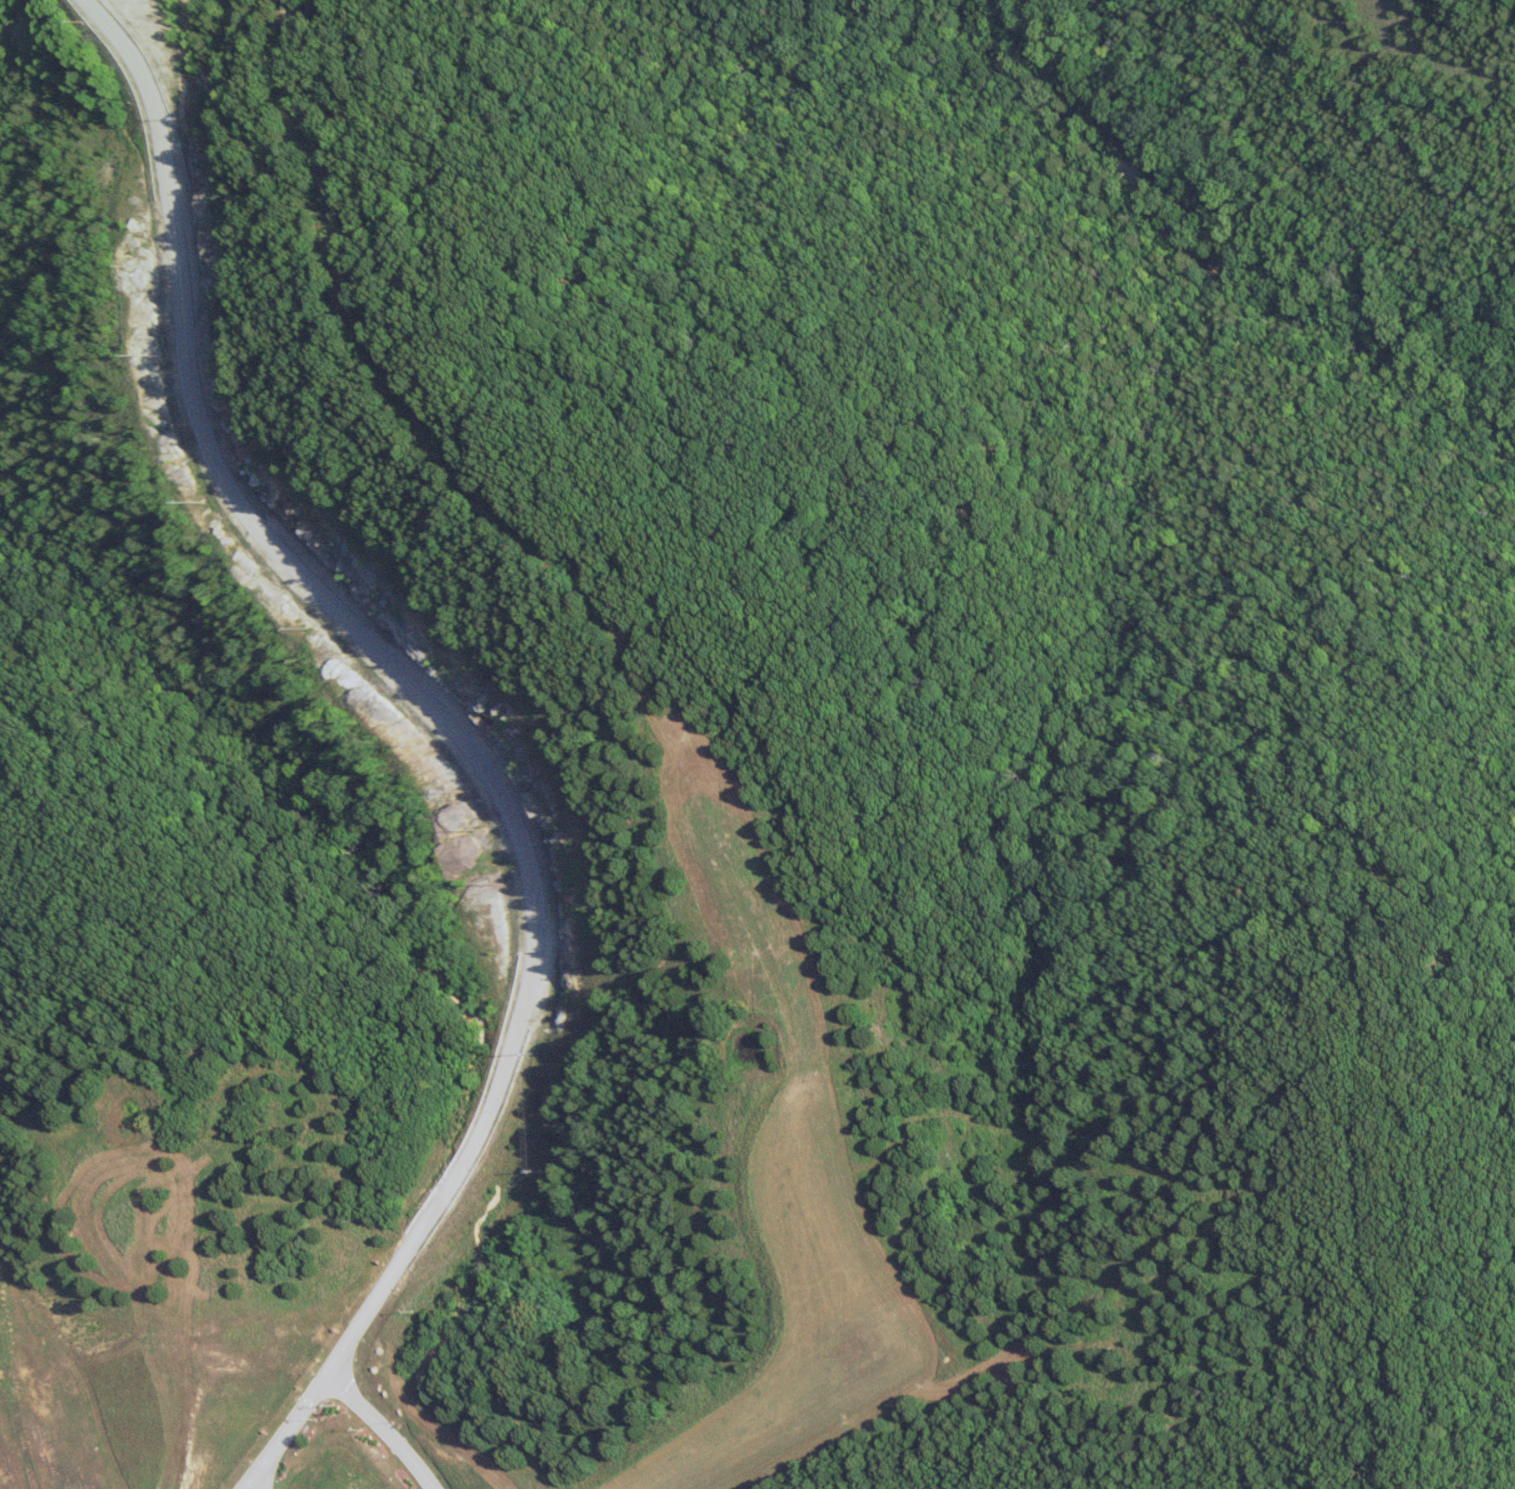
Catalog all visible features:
road: (256, 546)
road: (438, 1215)
airport: (174, 1397)
road: (367, 1427)
road: (271, 1430)
road: (249, 1478)

